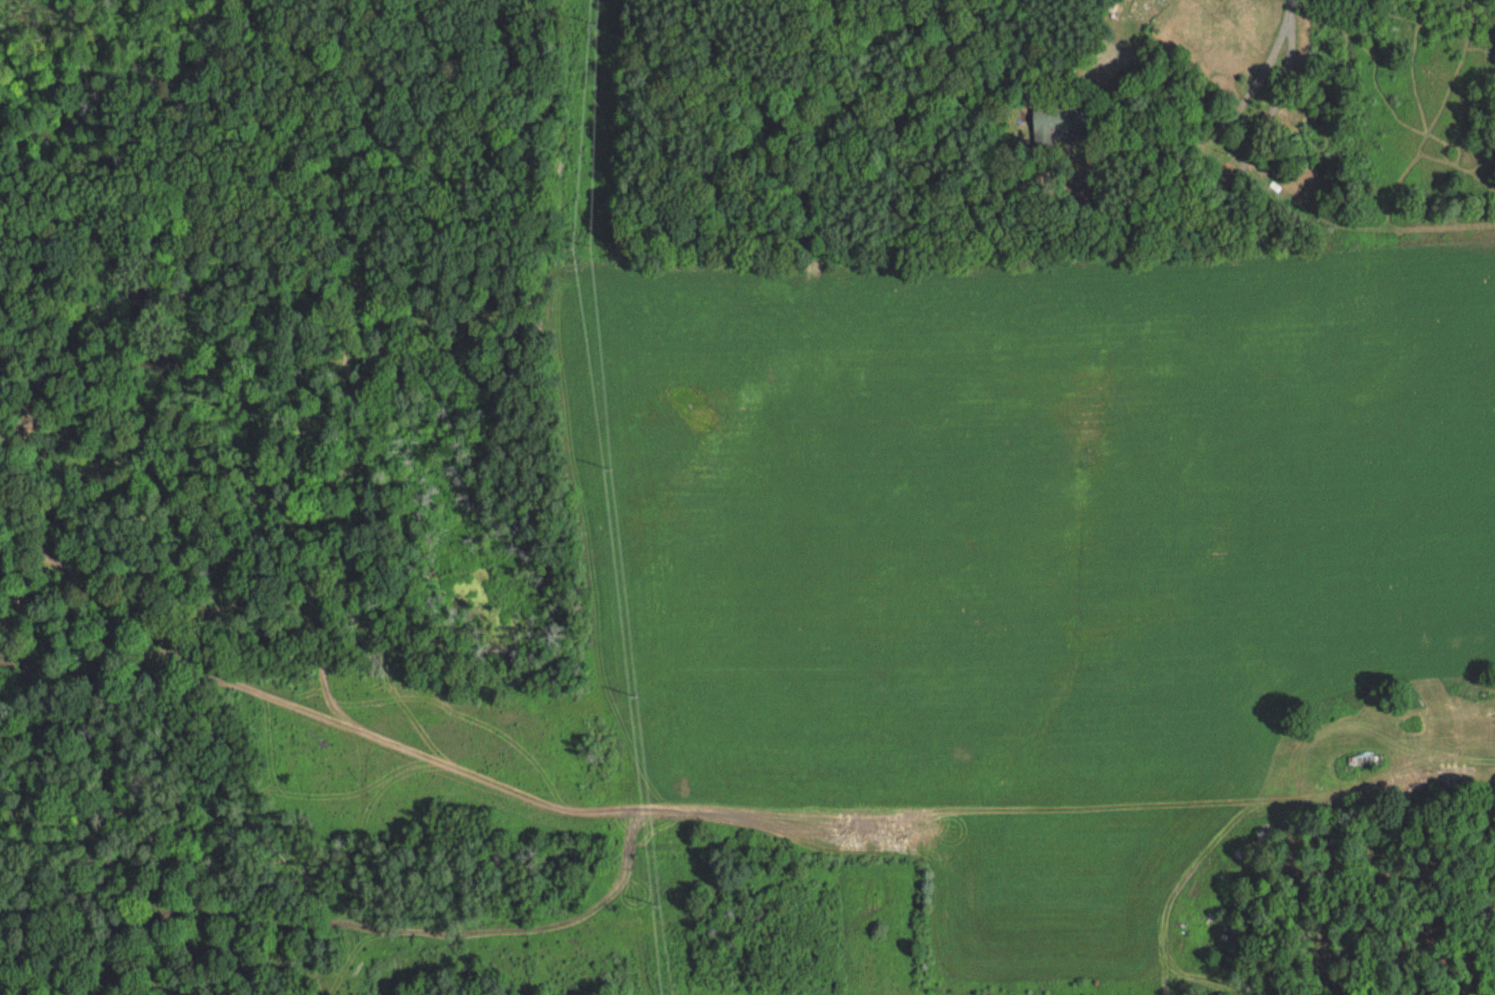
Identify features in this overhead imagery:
road: (1227, 105)
building: (1050, 121)
building: (1407, 723)
building: (1287, 738)

